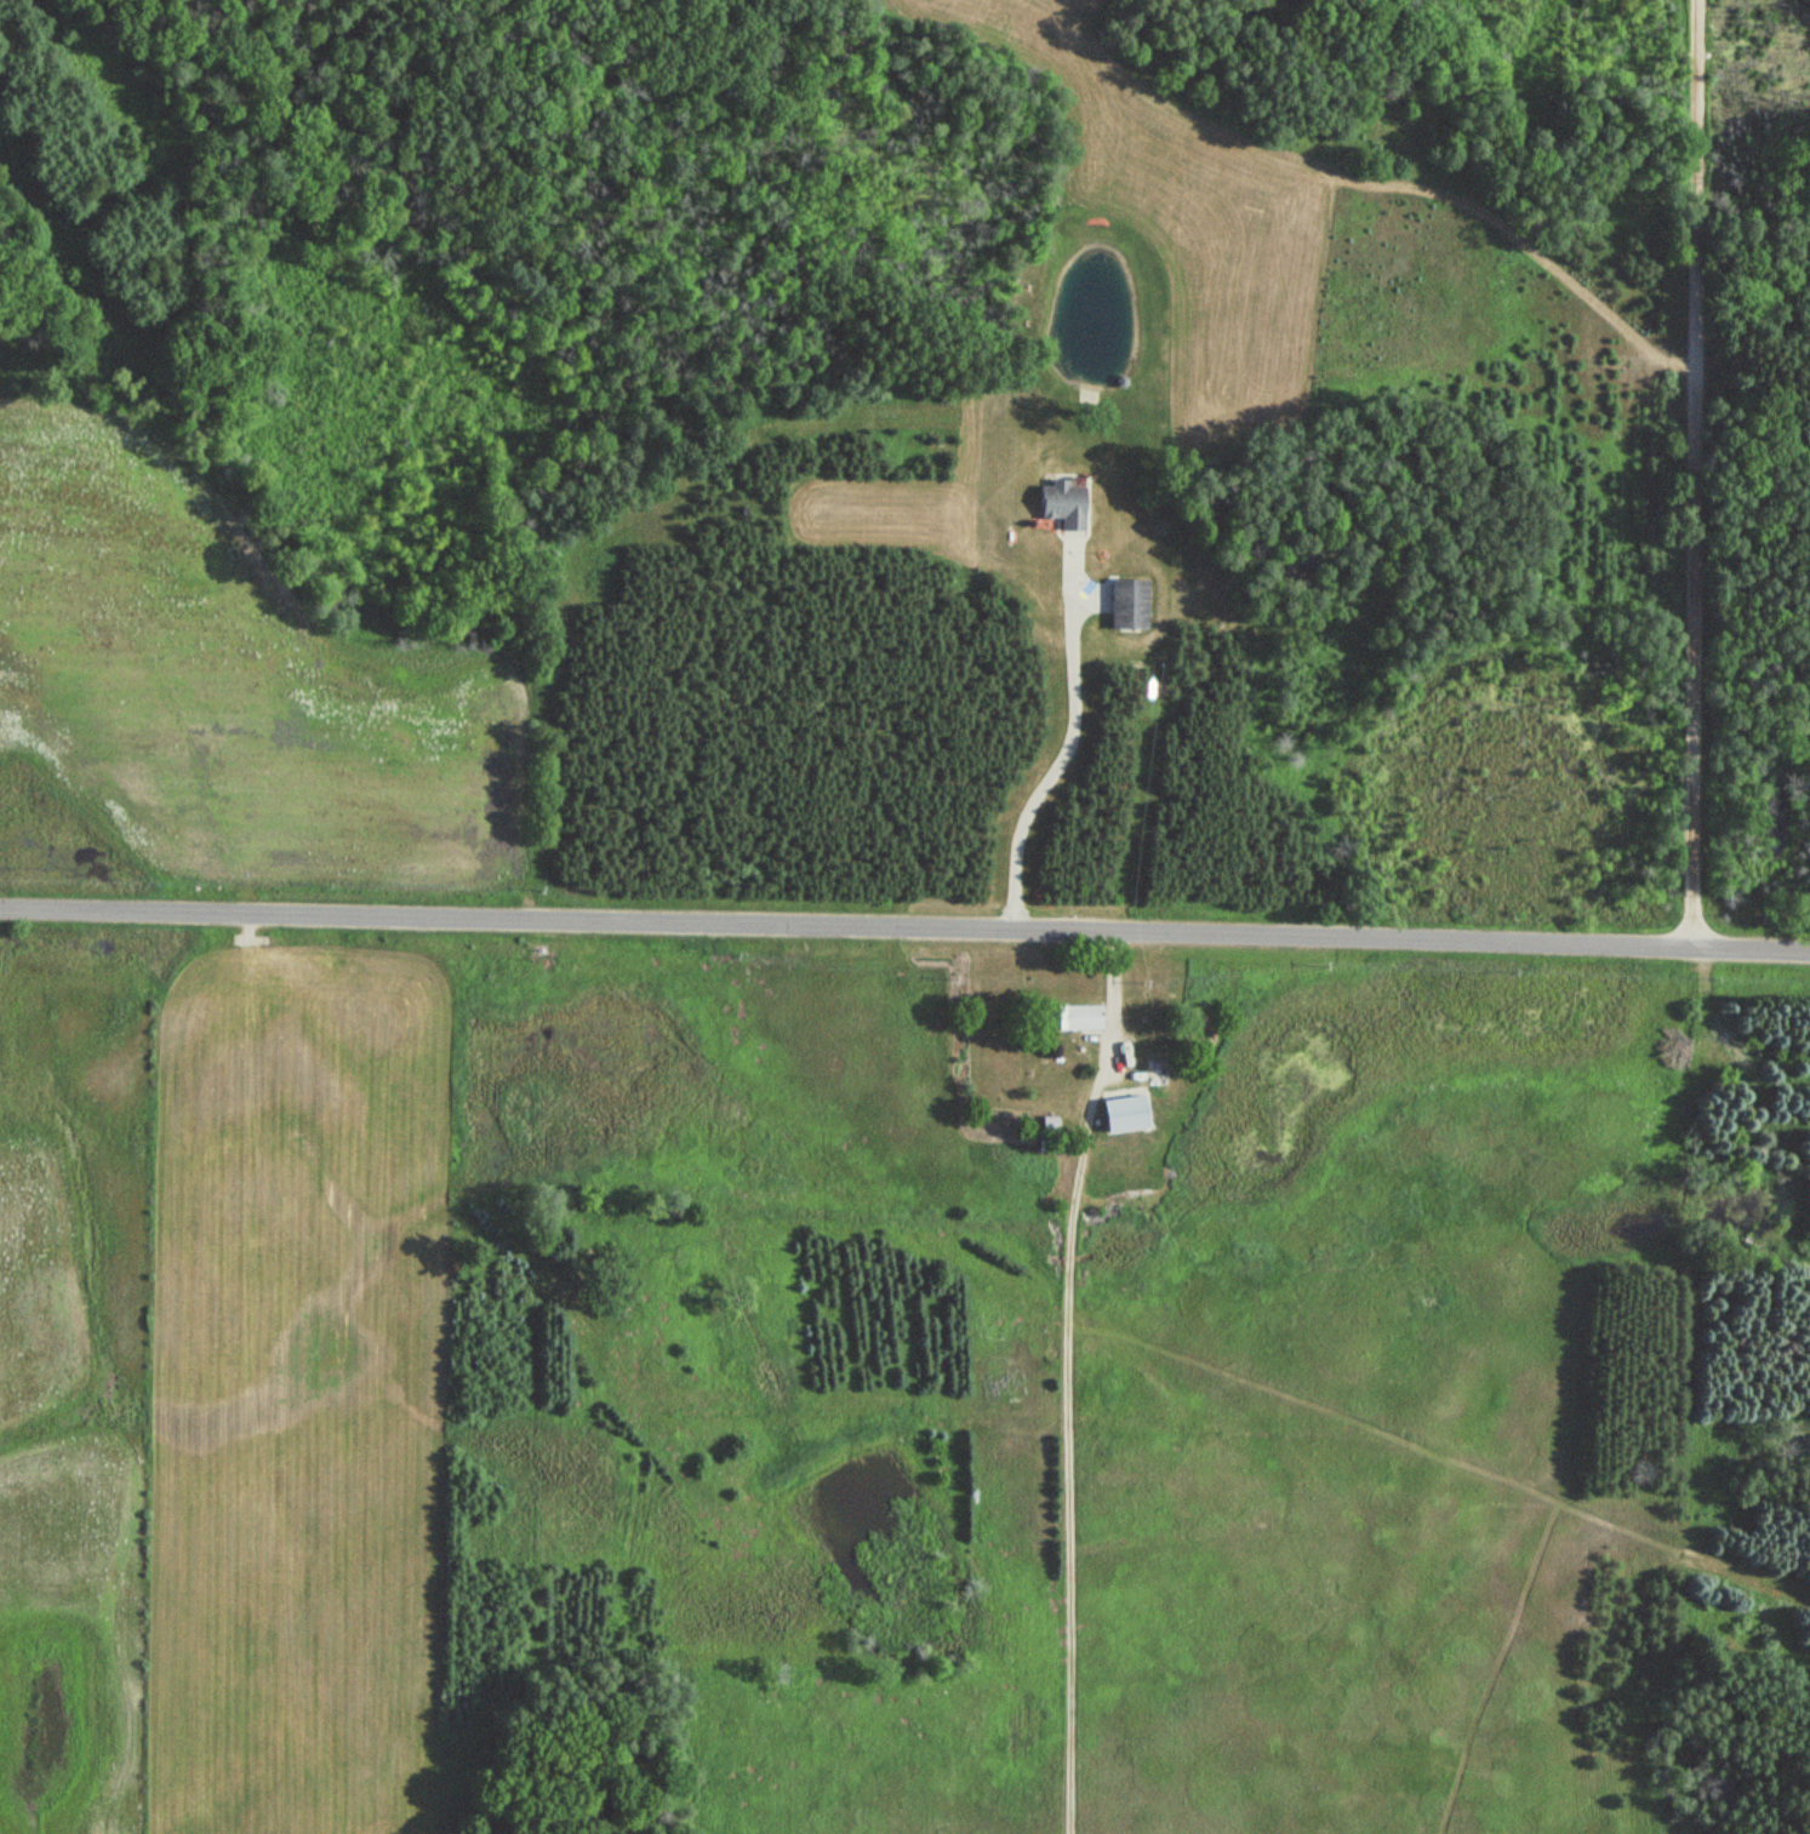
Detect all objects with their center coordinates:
road: (1696, 472)
building: (1061, 507)
building: (1126, 606)
road: (1074, 743)
road: (904, 925)
building: (1074, 1018)
building: (1154, 1072)
building: (1121, 1114)
road: (1064, 1265)

